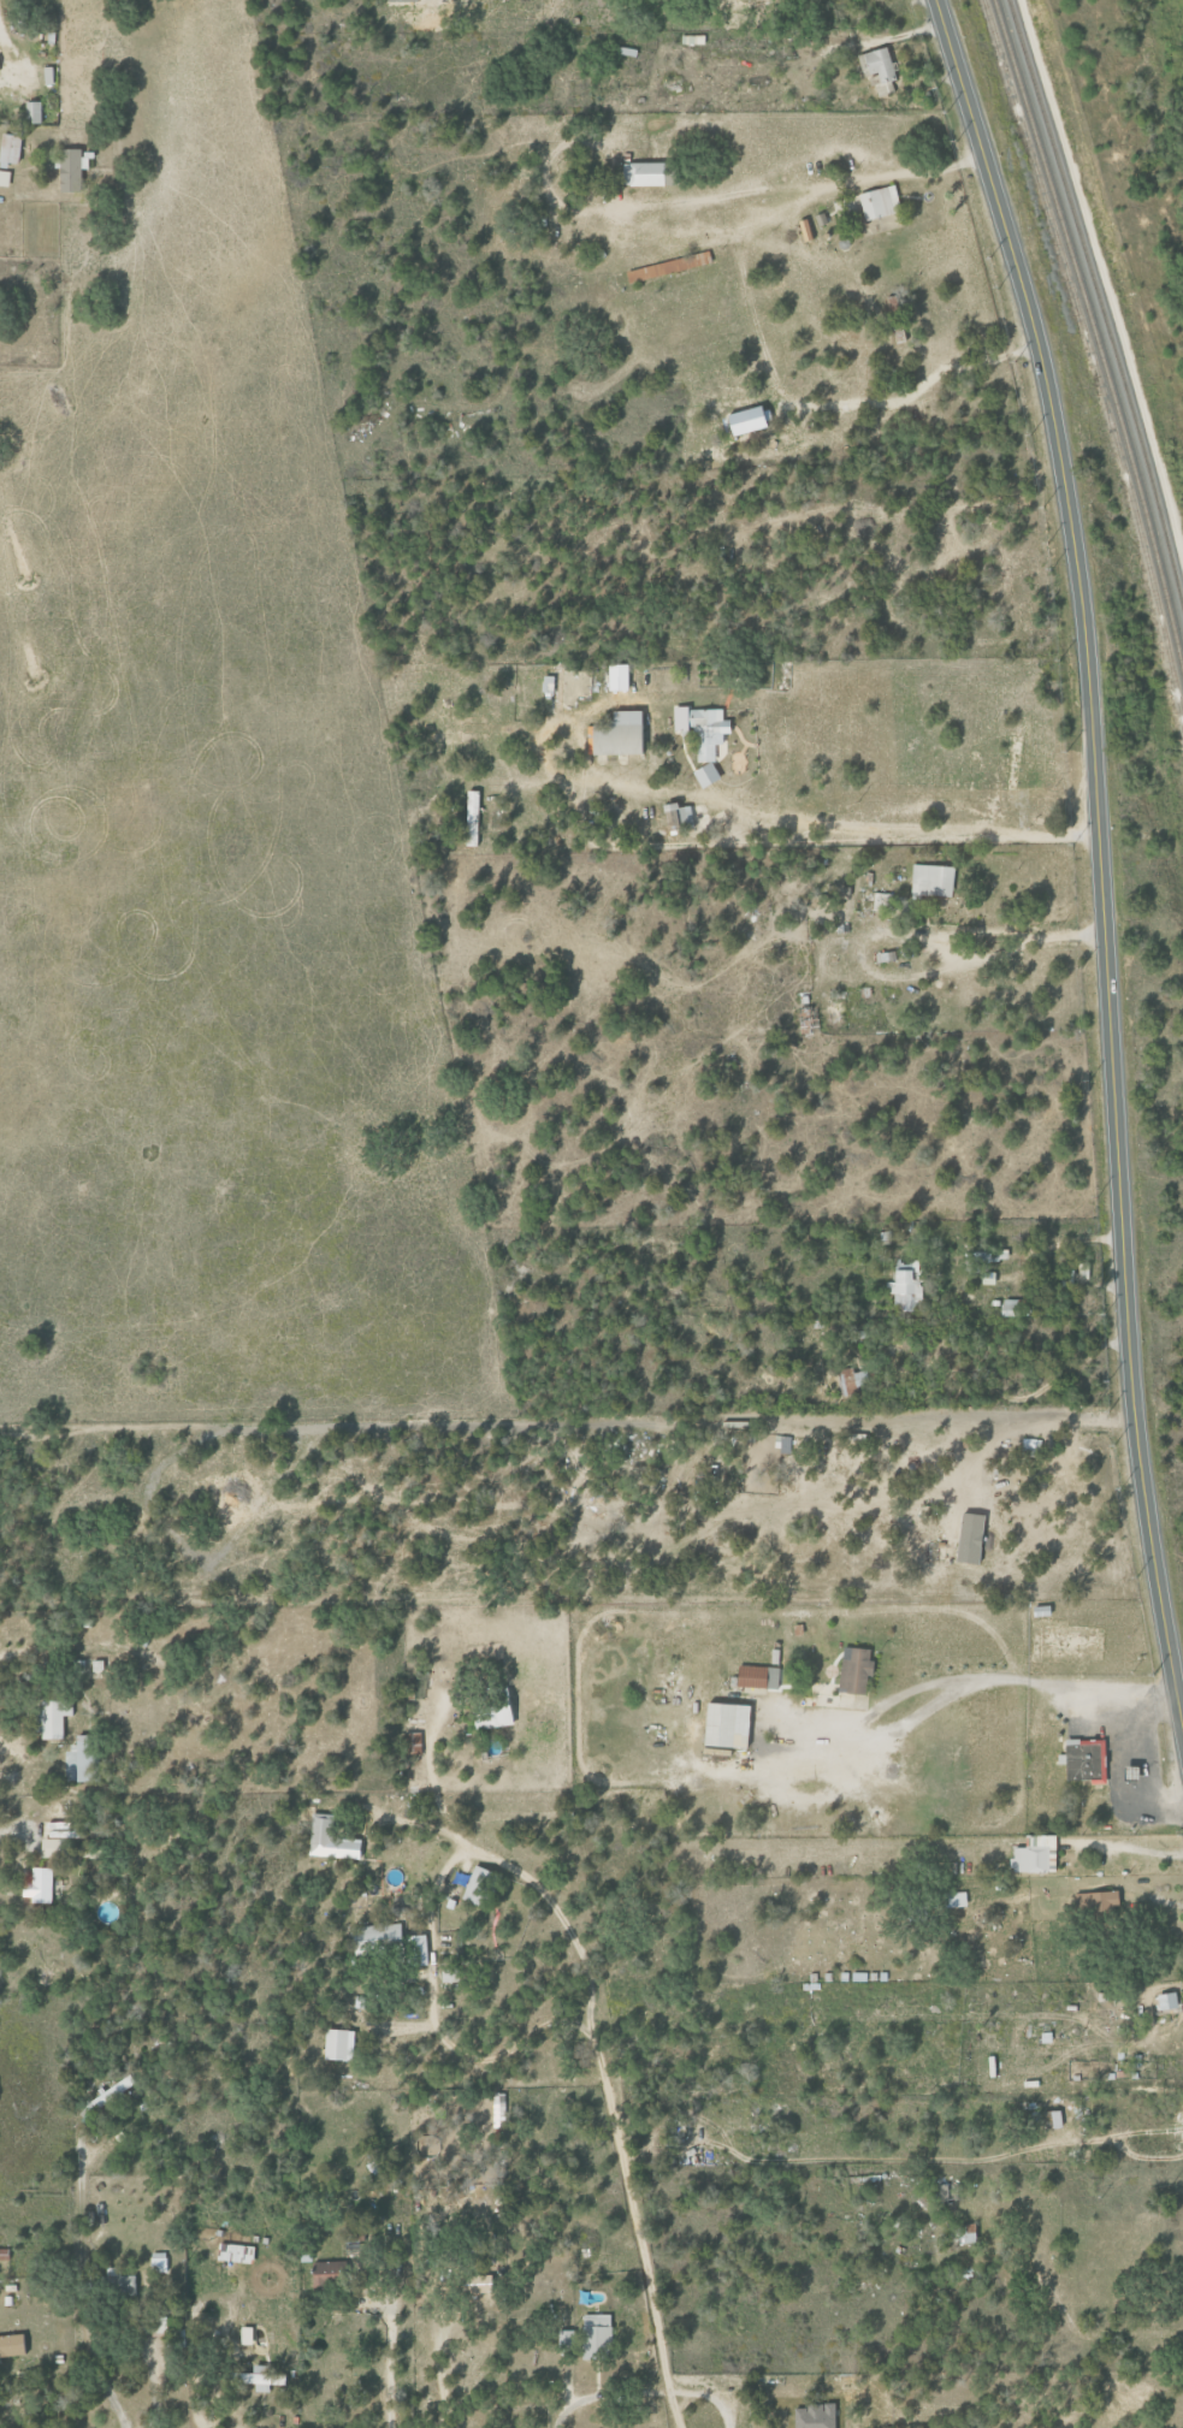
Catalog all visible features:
road: (1, 60)
building: (0, 65)
building: (879, 69)
building: (36, 112)
building: (12, 149)
quarry: (1135, 152)
building: (641, 173)
building: (6, 178)
road: (800, 200)
building: (877, 202)
building: (668, 266)
railway: (1093, 344)
railway: (1090, 368)
building: (745, 420)
building: (616, 677)
building: (554, 687)
building: (615, 734)
building: (705, 740)
building: (469, 818)
road: (608, 846)
road: (1100, 857)
building: (931, 880)
road: (1051, 1244)
building: (905, 1287)
building: (851, 1380)
road: (1037, 1391)
building: (968, 1538)
building: (853, 1671)
building: (756, 1676)
road: (971, 1678)
building: (493, 1716)
building: (723, 1724)
building: (412, 1742)
building: (84, 1759)
building: (1083, 1760)
building: (329, 1841)
building: (55, 1844)
road: (1125, 1848)
building: (1033, 1854)
building: (41, 1885)
building: (479, 1887)
building: (956, 1900)
building: (1098, 1903)
building: (375, 1937)
building: (416, 1949)
building: (1166, 2000)
road: (432, 2015)
road: (592, 2032)
building: (337, 2044)
building: (111, 2092)
building: (498, 2109)
road: (1140, 2157)
road: (939, 2160)
building: (235, 2252)
building: (2, 2254)
building: (159, 2262)
building: (325, 2269)
road: (83, 2272)
building: (125, 2284)
road: (1072, 2326)
building: (244, 2334)
building: (596, 2337)
building: (11, 2344)
road: (389, 2365)
building: (259, 2377)
road: (152, 2391)
road: (605, 2393)
road: (708, 2397)
building: (814, 2416)

